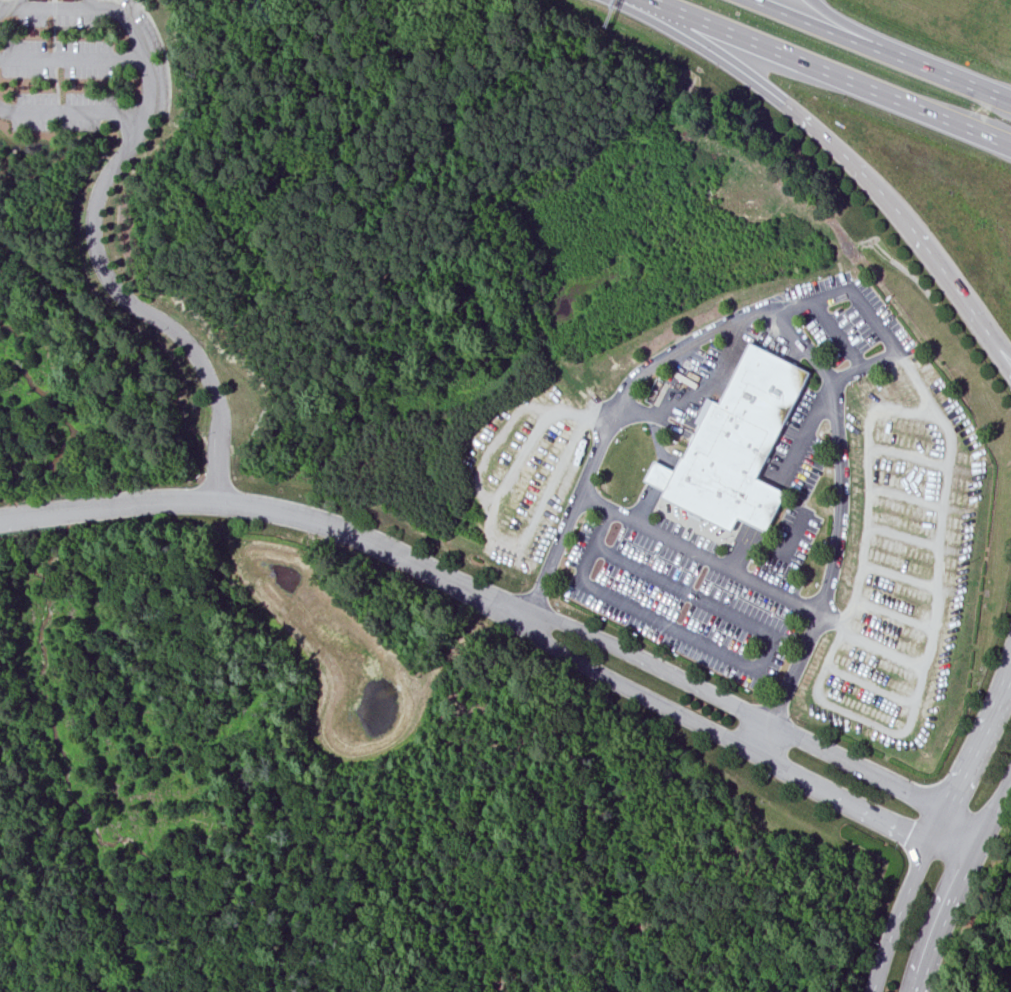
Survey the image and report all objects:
road: (884, 39)
road: (882, 49)
road: (72, 57)
road: (827, 73)
road: (71, 108)
road: (841, 156)
road: (95, 211)
road: (880, 326)
road: (836, 334)
parking lot: (775, 344)
road: (862, 367)
road: (697, 398)
building: (739, 444)
parking lot: (798, 453)
road: (839, 454)
road: (908, 456)
road: (659, 473)
parking lot: (525, 474)
road: (867, 476)
road: (779, 479)
road: (906, 498)
road: (270, 508)
road: (902, 538)
parking lot: (790, 539)
parking lot: (897, 555)
road: (702, 557)
road: (898, 576)
parking lot: (687, 592)
road: (881, 649)
road: (743, 663)
road: (868, 685)
road: (754, 716)
road: (872, 723)
road: (758, 734)
road: (742, 741)
road: (938, 828)
road: (959, 882)

